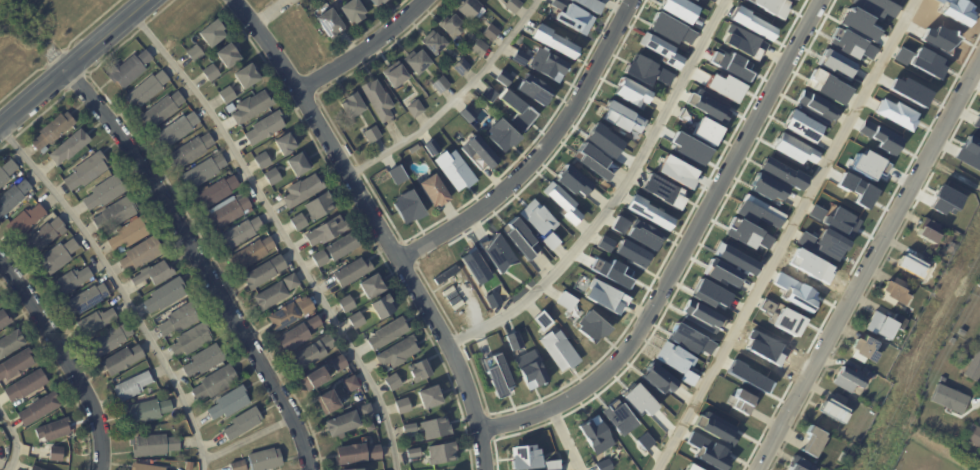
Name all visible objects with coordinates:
building: (380, 0)
building: (696, 0)
building: (373, 1)
building: (557, 4)
building: (587, 4)
building: (512, 6)
building: (876, 7)
building: (469, 8)
building: (678, 9)
building: (351, 10)
road: (269, 12)
building: (573, 18)
building: (329, 22)
building: (452, 25)
building: (669, 29)
building: (212, 33)
building: (490, 33)
building: (434, 42)
building: (742, 42)
building: (479, 48)
road: (364, 49)
building: (660, 50)
building: (194, 53)
building: (228, 54)
building: (519, 56)
building: (415, 59)
road: (75, 64)
building: (546, 64)
building: (462, 67)
building: (129, 69)
building: (640, 69)
building: (210, 72)
building: (393, 74)
building: (247, 76)
building: (663, 76)
building: (501, 79)
building: (439, 83)
building: (826, 87)
building: (146, 89)
building: (533, 89)
building: (629, 92)
building: (487, 94)
building: (227, 95)
road: (453, 98)
building: (378, 100)
building: (352, 105)
building: (252, 107)
building: (415, 108)
building: (816, 108)
building: (162, 109)
building: (516, 110)
building: (466, 113)
building: (622, 117)
building: (977, 120)
building: (800, 125)
building: (264, 128)
building: (53, 130)
building: (177, 130)
building: (704, 131)
building: (372, 134)
building: (500, 135)
building: (602, 140)
building: (286, 143)
building: (431, 146)
building: (69, 147)
building: (414, 149)
building: (793, 149)
building: (191, 150)
building: (477, 150)
road: (539, 150)
building: (969, 152)
building: (262, 160)
building: (592, 161)
building: (300, 163)
building: (453, 169)
building: (6, 171)
building: (86, 171)
building: (203, 171)
building: (395, 173)
building: (782, 173)
building: (272, 176)
building: (571, 180)
building: (768, 188)
building: (432, 190)
building: (662, 190)
building: (302, 191)
building: (105, 192)
building: (216, 192)
building: (13, 197)
road: (615, 197)
building: (561, 202)
building: (319, 206)
building: (405, 207)
building: (758, 211)
building: (647, 212)
building: (116, 213)
building: (227, 213)
building: (535, 217)
building: (24, 220)
building: (299, 222)
building: (620, 222)
road: (380, 225)
building: (326, 231)
building: (927, 231)
building: (129, 233)
building: (240, 233)
road: (281, 233)
building: (643, 234)
road: (787, 235)
building: (43, 236)
building: (517, 236)
building: (549, 241)
building: (605, 243)
building: (828, 244)
building: (342, 247)
road: (682, 250)
building: (496, 252)
building: (252, 253)
building: (631, 253)
building: (141, 254)
building: (57, 257)
building: (320, 258)
building: (736, 259)
road: (203, 262)
road: (869, 265)
building: (913, 265)
building: (473, 266)
building: (608, 270)
building: (265, 272)
building: (352, 272)
building: (154, 274)
building: (444, 274)
building: (72, 280)
building: (978, 283)
road: (120, 287)
building: (372, 287)
building: (276, 292)
building: (894, 293)
building: (165, 295)
building: (491, 297)
building: (604, 297)
building: (86, 299)
building: (565, 301)
building: (347, 303)
building: (384, 307)
building: (290, 314)
building: (541, 319)
building: (4, 320)
building: (179, 320)
building: (357, 320)
building: (96, 321)
building: (313, 323)
building: (961, 324)
building: (882, 325)
building: (590, 326)
building: (388, 334)
building: (979, 335)
building: (293, 338)
building: (688, 339)
building: (111, 340)
building: (191, 340)
building: (10, 343)
building: (328, 343)
building: (863, 349)
building: (557, 350)
building: (398, 353)
road: (66, 357)
building: (307, 357)
building: (672, 357)
building: (122, 360)
building: (205, 360)
building: (339, 363)
building: (15, 365)
building: (973, 366)
building: (529, 369)
building: (421, 371)
building: (870, 374)
building: (497, 376)
building: (846, 378)
building: (658, 379)
building: (315, 380)
building: (393, 382)
building: (215, 383)
building: (947, 383)
building: (350, 384)
building: (25, 386)
building: (132, 386)
building: (431, 398)
building: (838, 398)
building: (637, 399)
building: (743, 400)
building: (330, 402)
building: (229, 403)
building: (403, 406)
building: (955, 407)
building: (40, 408)
building: (833, 411)
building: (146, 412)
building: (365, 412)
building: (617, 417)
building: (243, 424)
building: (342, 424)
building: (409, 429)
building: (436, 429)
building: (53, 430)
building: (594, 434)
building: (973, 436)
road: (248, 437)
road: (13, 438)
road: (566, 439)
building: (813, 442)
building: (155, 446)
building: (374, 453)
building: (414, 453)
building: (56, 454)
building: (442, 454)
building: (350, 455)
building: (523, 456)
building: (842, 458)
building: (265, 460)
building: (551, 464)
building: (798, 464)
building: (603, 465)
building: (238, 466)
building: (145, 467)
building: (34, 468)
building: (692, 468)
building: (349, 469)

